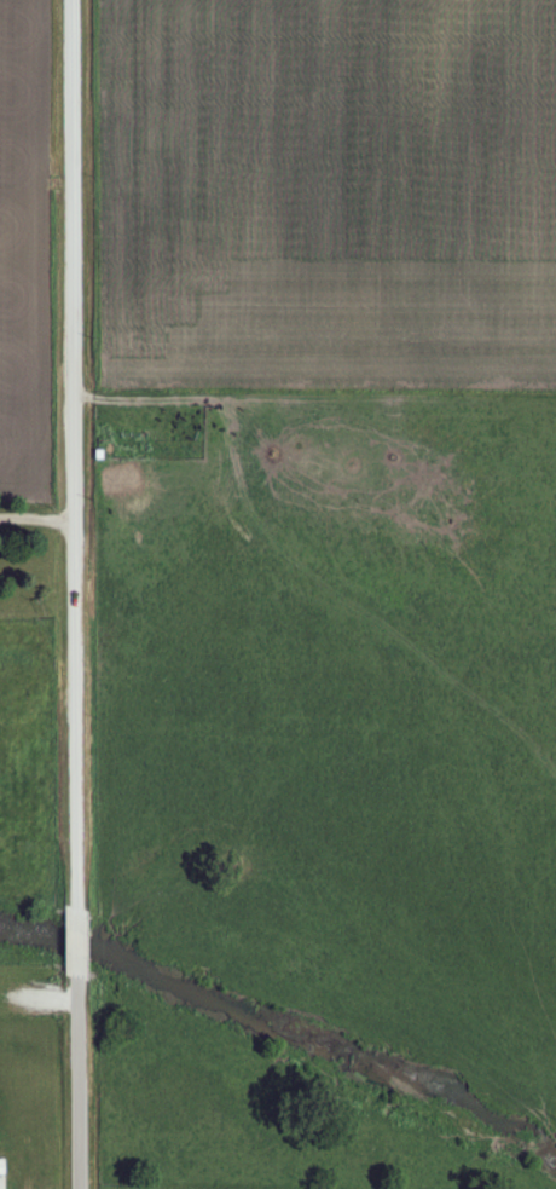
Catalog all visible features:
road: (35, 515)
road: (71, 594)

